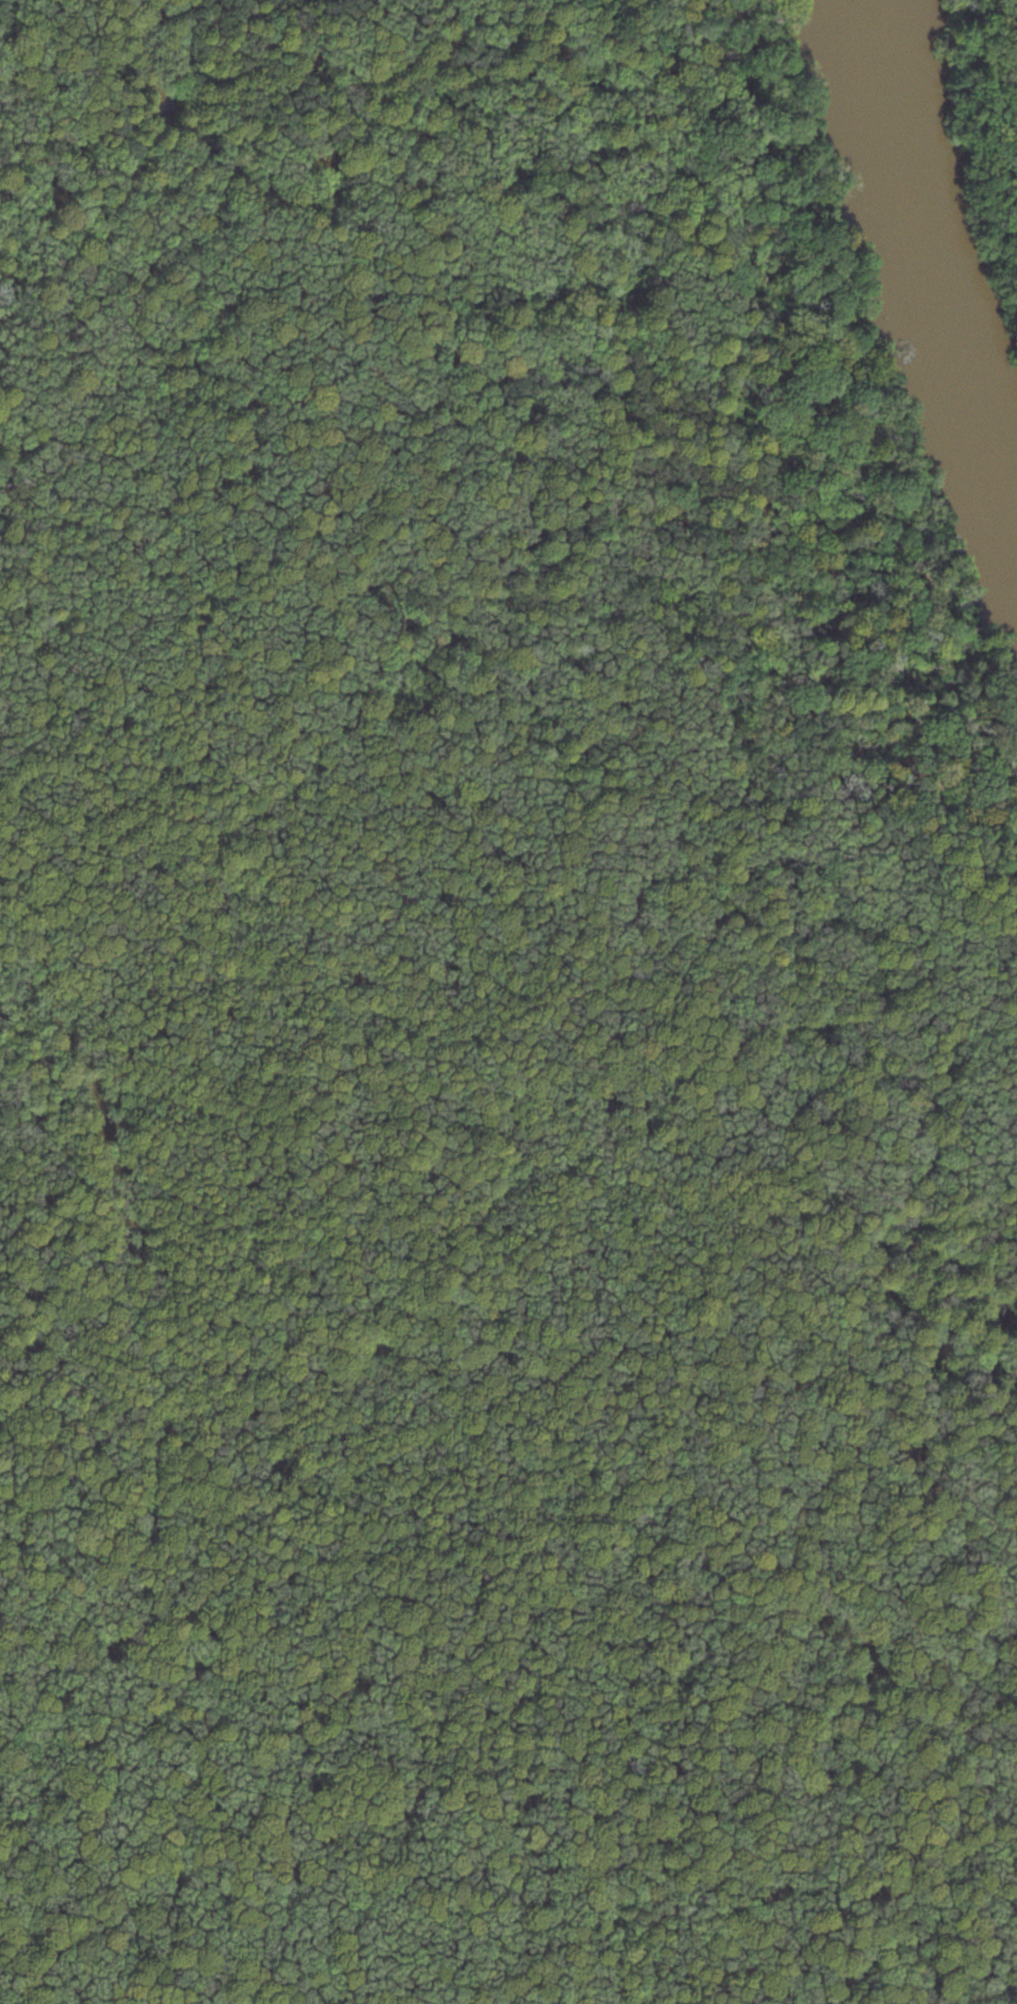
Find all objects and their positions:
river: (891, 302)

